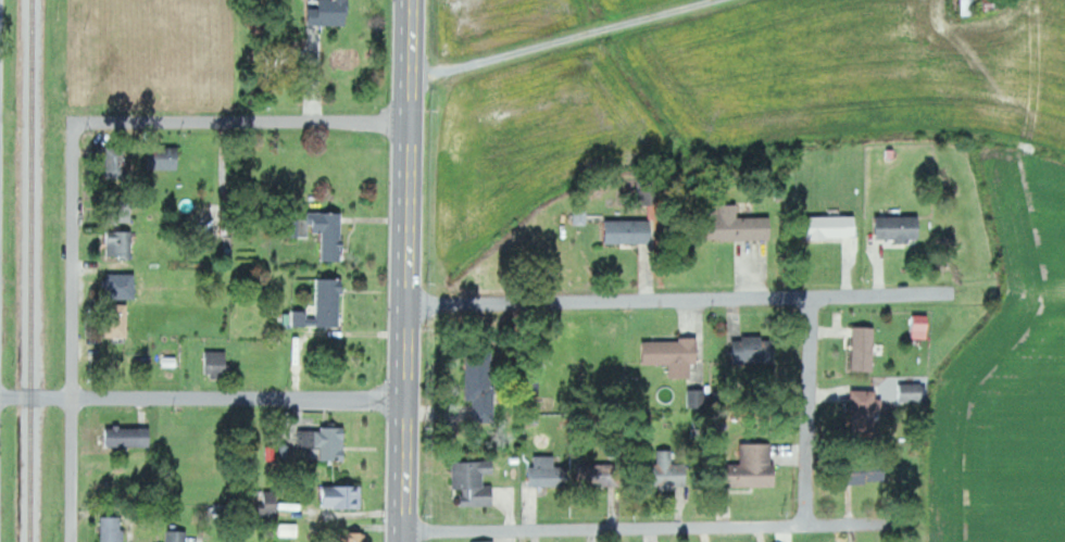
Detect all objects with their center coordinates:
building: (997, 4)
building: (969, 7)
building: (327, 16)
road: (561, 40)
road: (242, 122)
building: (166, 157)
building: (118, 163)
building: (124, 209)
building: (737, 224)
building: (832, 227)
building: (900, 228)
building: (331, 234)
building: (121, 243)
railway: (34, 270)
road: (409, 270)
building: (122, 286)
road: (882, 295)
road: (613, 301)
building: (323, 305)
road: (73, 331)
building: (865, 349)
building: (755, 350)
building: (218, 363)
building: (483, 389)
building: (911, 392)
road: (203, 398)
building: (698, 399)
building: (866, 411)
road: (813, 412)
building: (129, 436)
building: (327, 442)
building: (755, 465)
building: (866, 470)
building: (535, 472)
building: (475, 482)
building: (342, 496)
building: (278, 502)
road: (663, 527)
building: (114, 529)
building: (290, 530)
building: (177, 535)
building: (353, 537)
building: (486, 541)

